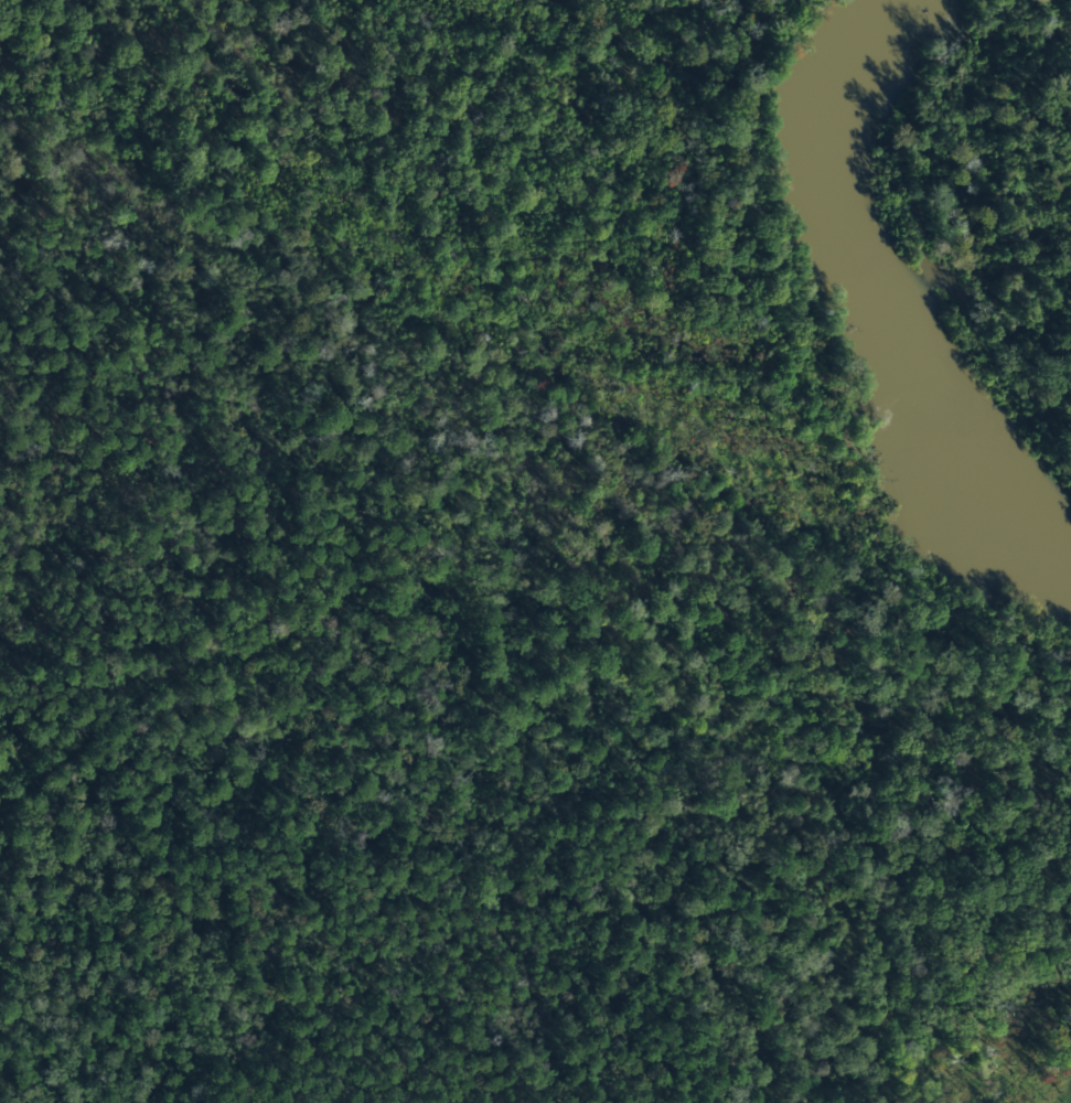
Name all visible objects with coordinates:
river: (893, 312)

